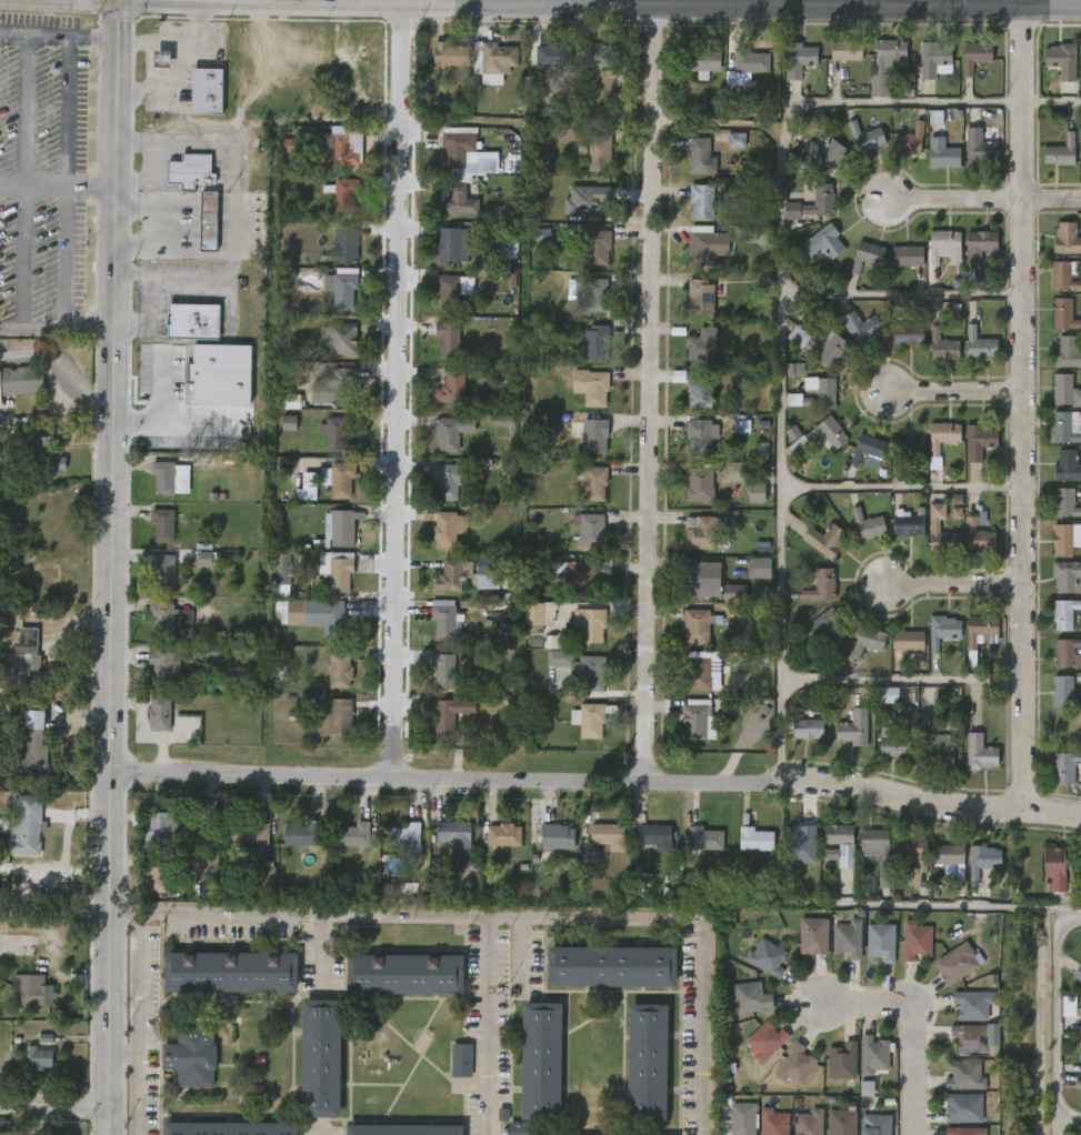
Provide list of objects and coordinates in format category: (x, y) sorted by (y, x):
road: (300, 1)
road: (358, 2)
road: (533, 2)
road: (879, 3)
road: (924, 3)
road: (624, 6)
road: (59, 47)
building: (845, 50)
building: (448, 53)
building: (555, 56)
building: (975, 56)
building: (496, 57)
building: (601, 57)
building: (797, 58)
building: (933, 59)
building: (701, 60)
building: (750, 60)
building: (1060, 60)
building: (834, 62)
building: (879, 66)
building: (439, 67)
building: (541, 68)
building: (585, 68)
building: (963, 68)
building: (150, 71)
building: (922, 71)
building: (788, 72)
building: (1050, 72)
building: (482, 73)
building: (692, 74)
building: (875, 77)
building: (735, 80)
building: (208, 92)
building: (196, 103)
building: (865, 138)
building: (909, 140)
building: (1080, 144)
building: (456, 145)
building: (599, 147)
building: (978, 148)
building: (854, 150)
building: (339, 151)
building: (1061, 151)
building: (724, 152)
building: (898, 152)
building: (824, 155)
building: (279, 157)
building: (700, 157)
building: (942, 158)
building: (967, 160)
building: (446, 161)
building: (588, 161)
building: (1049, 164)
building: (930, 165)
building: (812, 167)
building: (689, 171)
building: (191, 172)
road: (152, 175)
road: (52, 192)
building: (822, 193)
road: (13, 194)
road: (26, 194)
building: (341, 195)
building: (454, 195)
road: (84, 198)
road: (236, 199)
road: (957, 199)
road: (1053, 199)
building: (700, 200)
building: (601, 202)
building: (334, 205)
road: (146, 209)
building: (809, 212)
building: (690, 213)
building: (447, 214)
building: (210, 222)
building: (780, 222)
building: (198, 232)
building: (1065, 239)
building: (823, 242)
building: (942, 242)
building: (344, 243)
building: (450, 244)
building: (979, 244)
building: (597, 247)
building: (531, 248)
building: (705, 248)
building: (1058, 251)
building: (811, 254)
building: (334, 255)
building: (867, 255)
building: (905, 255)
building: (968, 257)
building: (441, 258)
building: (587, 258)
building: (932, 258)
building: (497, 260)
building: (855, 268)
building: (895, 268)
building: (1063, 275)
building: (1053, 288)
building: (339, 289)
building: (451, 290)
building: (417, 293)
building: (591, 293)
road: (903, 294)
building: (699, 295)
road: (779, 299)
building: (441, 303)
building: (581, 305)
building: (688, 308)
building: (1064, 314)
building: (190, 322)
building: (1053, 327)
building: (860, 329)
building: (907, 333)
building: (336, 338)
road: (57, 339)
building: (447, 339)
building: (849, 340)
building: (595, 342)
building: (701, 344)
building: (818, 344)
building: (979, 344)
building: (942, 345)
building: (895, 346)
building: (327, 351)
building: (437, 351)
building: (1067, 351)
building: (583, 354)
building: (968, 356)
building: (690, 358)
building: (808, 358)
building: (931, 359)
building: (1059, 365)
building: (18, 382)
building: (333, 386)
building: (590, 386)
building: (450, 388)
road: (401, 389)
building: (1062, 389)
building: (699, 390)
building: (813, 393)
road: (960, 394)
road: (655, 395)
building: (439, 400)
building: (582, 401)
building: (688, 403)
building: (1057, 403)
building: (804, 406)
road: (1029, 408)
building: (1065, 426)
building: (333, 433)
building: (449, 433)
building: (277, 434)
building: (697, 435)
building: (941, 435)
building: (592, 436)
building: (820, 436)
building: (729, 438)
building: (978, 441)
building: (327, 444)
building: (439, 444)
building: (930, 446)
building: (808, 448)
building: (908, 448)
building: (868, 449)
building: (687, 450)
building: (44, 453)
building: (967, 453)
building: (895, 458)
building: (855, 460)
building: (1067, 465)
building: (38, 469)
building: (922, 474)
building: (161, 478)
building: (1058, 479)
building: (444, 480)
building: (340, 481)
building: (592, 484)
building: (699, 485)
road: (904, 486)
building: (292, 492)
building: (326, 492)
building: (436, 493)
building: (582, 495)
building: (688, 496)
building: (1064, 503)
building: (743, 504)
building: (1054, 515)
building: (943, 524)
building: (160, 525)
building: (867, 525)
building: (907, 525)
building: (933, 526)
building: (340, 528)
building: (444, 528)
building: (591, 531)
building: (698, 532)
building: (151, 536)
building: (855, 536)
building: (895, 538)
building: (922, 538)
building: (978, 538)
building: (1063, 538)
building: (578, 541)
building: (824, 541)
building: (689, 543)
building: (967, 549)
building: (813, 552)
road: (110, 566)
building: (758, 567)
building: (192, 570)
building: (334, 570)
building: (160, 571)
building: (489, 571)
building: (450, 575)
building: (1065, 575)
building: (583, 579)
building: (748, 579)
building: (326, 581)
building: (152, 582)
building: (476, 583)
building: (709, 583)
building: (820, 584)
road: (958, 584)
building: (270, 585)
building: (810, 597)
building: (722, 604)
building: (294, 612)
building: (1064, 613)
building: (537, 615)
building: (169, 617)
building: (332, 622)
building: (442, 622)
building: (589, 624)
building: (1053, 625)
building: (698, 626)
building: (827, 626)
building: (528, 627)
building: (158, 630)
building: (941, 630)
building: (979, 630)
building: (433, 632)
building: (578, 636)
building: (812, 639)
building: (868, 641)
building: (907, 641)
building: (931, 642)
building: (970, 642)
building: (895, 652)
building: (1068, 652)
building: (544, 653)
building: (855, 653)
building: (559, 657)
building: (26, 659)
building: (166, 662)
building: (1057, 664)
building: (337, 670)
building: (442, 670)
building: (16, 671)
building: (698, 673)
building: (153, 674)
building: (589, 674)
building: (569, 679)
road: (903, 679)
building: (328, 683)
building: (432, 683)
building: (224, 684)
building: (689, 685)
building: (1062, 691)
building: (1050, 702)
building: (157, 713)
building: (442, 716)
building: (339, 717)
building: (590, 719)
building: (695, 719)
building: (148, 725)
building: (1065, 726)
building: (853, 727)
building: (328, 729)
building: (807, 730)
building: (578, 732)
building: (883, 733)
building: (915, 733)
building: (842, 740)
building: (795, 741)
building: (29, 745)
building: (938, 749)
building: (979, 753)
building: (882, 757)
building: (927, 761)
building: (968, 764)
building: (1065, 766)
building: (1053, 779)
road: (594, 782)
building: (3, 825)
building: (26, 826)
building: (159, 831)
building: (452, 832)
building: (249, 833)
building: (351, 833)
building: (301, 834)
building: (402, 834)
building: (501, 834)
building: (607, 834)
building: (557, 835)
building: (653, 835)
building: (753, 836)
building: (703, 837)
building: (146, 841)
building: (840, 841)
building: (442, 845)
building: (341, 846)
building: (492, 846)
building: (291, 847)
building: (597, 847)
building: (240, 848)
building: (547, 848)
building: (643, 848)
building: (393, 851)
building: (691, 851)
building: (743, 851)
building: (911, 852)
building: (879, 853)
building: (828, 854)
building: (950, 858)
building: (981, 858)
building: (867, 863)
building: (817, 865)
building: (901, 865)
building: (935, 865)
building: (1054, 867)
building: (971, 872)
building: (160, 873)
building: (264, 876)
building: (1043, 880)
building: (941, 882)
building: (1075, 885)
building: (253, 887)
building: (143, 890)
road: (959, 904)
road: (504, 920)
building: (812, 934)
building: (848, 938)
building: (915, 940)
building: (882, 941)
building: (801, 947)
building: (835, 951)
building: (903, 952)
building: (869, 953)
road: (321, 954)
building: (767, 957)
building: (959, 964)
building: (609, 965)
building: (754, 968)
building: (227, 971)
building: (401, 972)
building: (1077, 973)
building: (1072, 987)
building: (31, 994)
building: (749, 997)
building: (975, 1005)
building: (1071, 1007)
building: (738, 1010)
building: (961, 1016)
road: (1053, 1016)
building: (1057, 1017)
road: (915, 1020)
road: (134, 1025)
road: (490, 1027)
building: (1080, 1028)
building: (765, 1039)
building: (973, 1039)
building: (959, 1049)
building: (753, 1052)
building: (875, 1055)
building: (189, 1056)
building: (36, 1057)
building: (318, 1057)
building: (461, 1059)
building: (539, 1059)
building: (644, 1062)
building: (844, 1062)
building: (799, 1066)
building: (861, 1066)
building: (28, 1068)
building: (1074, 1068)
building: (450, 1072)
building: (830, 1073)
building: (964, 1075)
building: (784, 1076)
building: (1080, 1085)
building: (953, 1087)
building: (1074, 1099)
building: (963, 1107)
road: (53, 1114)
building: (742, 1118)
building: (773, 1122)
building: (841, 1122)
building: (807, 1123)
building: (875, 1124)
building: (227, 1127)
building: (523, 1127)
building: (400, 1129)
building: (964, 1131)
road: (318, 1132)

